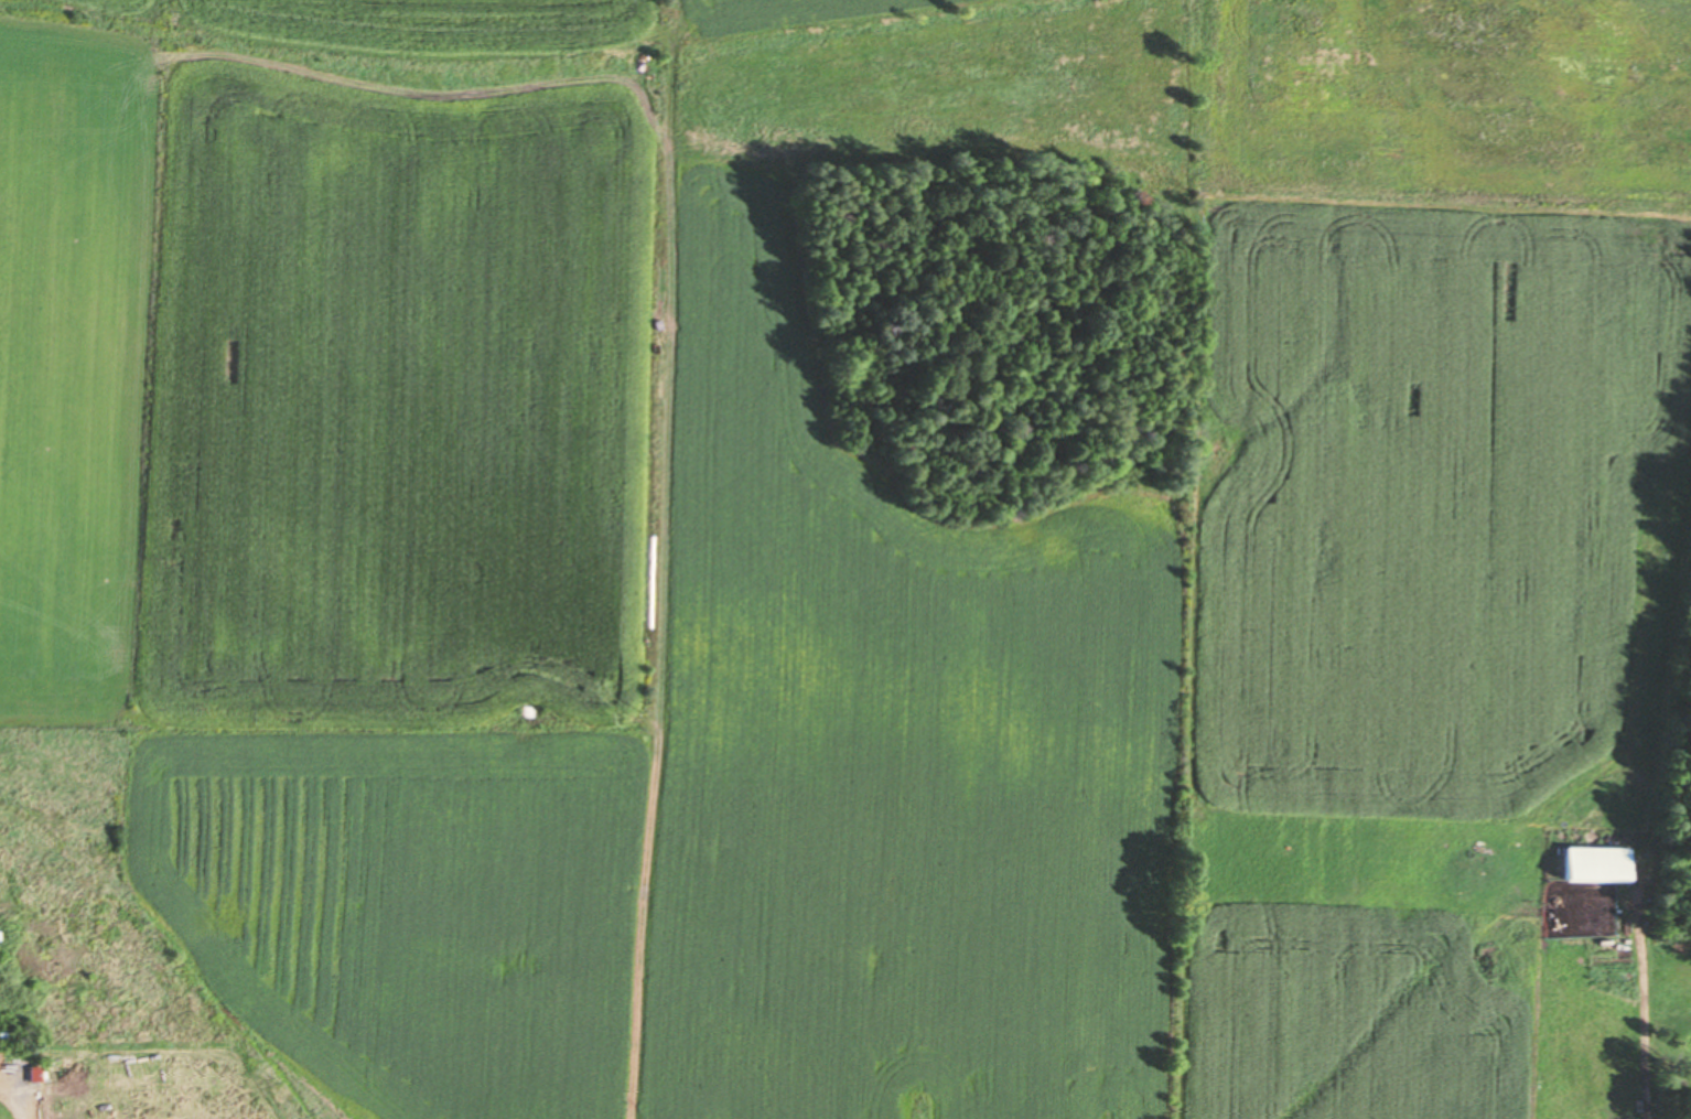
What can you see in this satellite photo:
building: (1592, 863)

